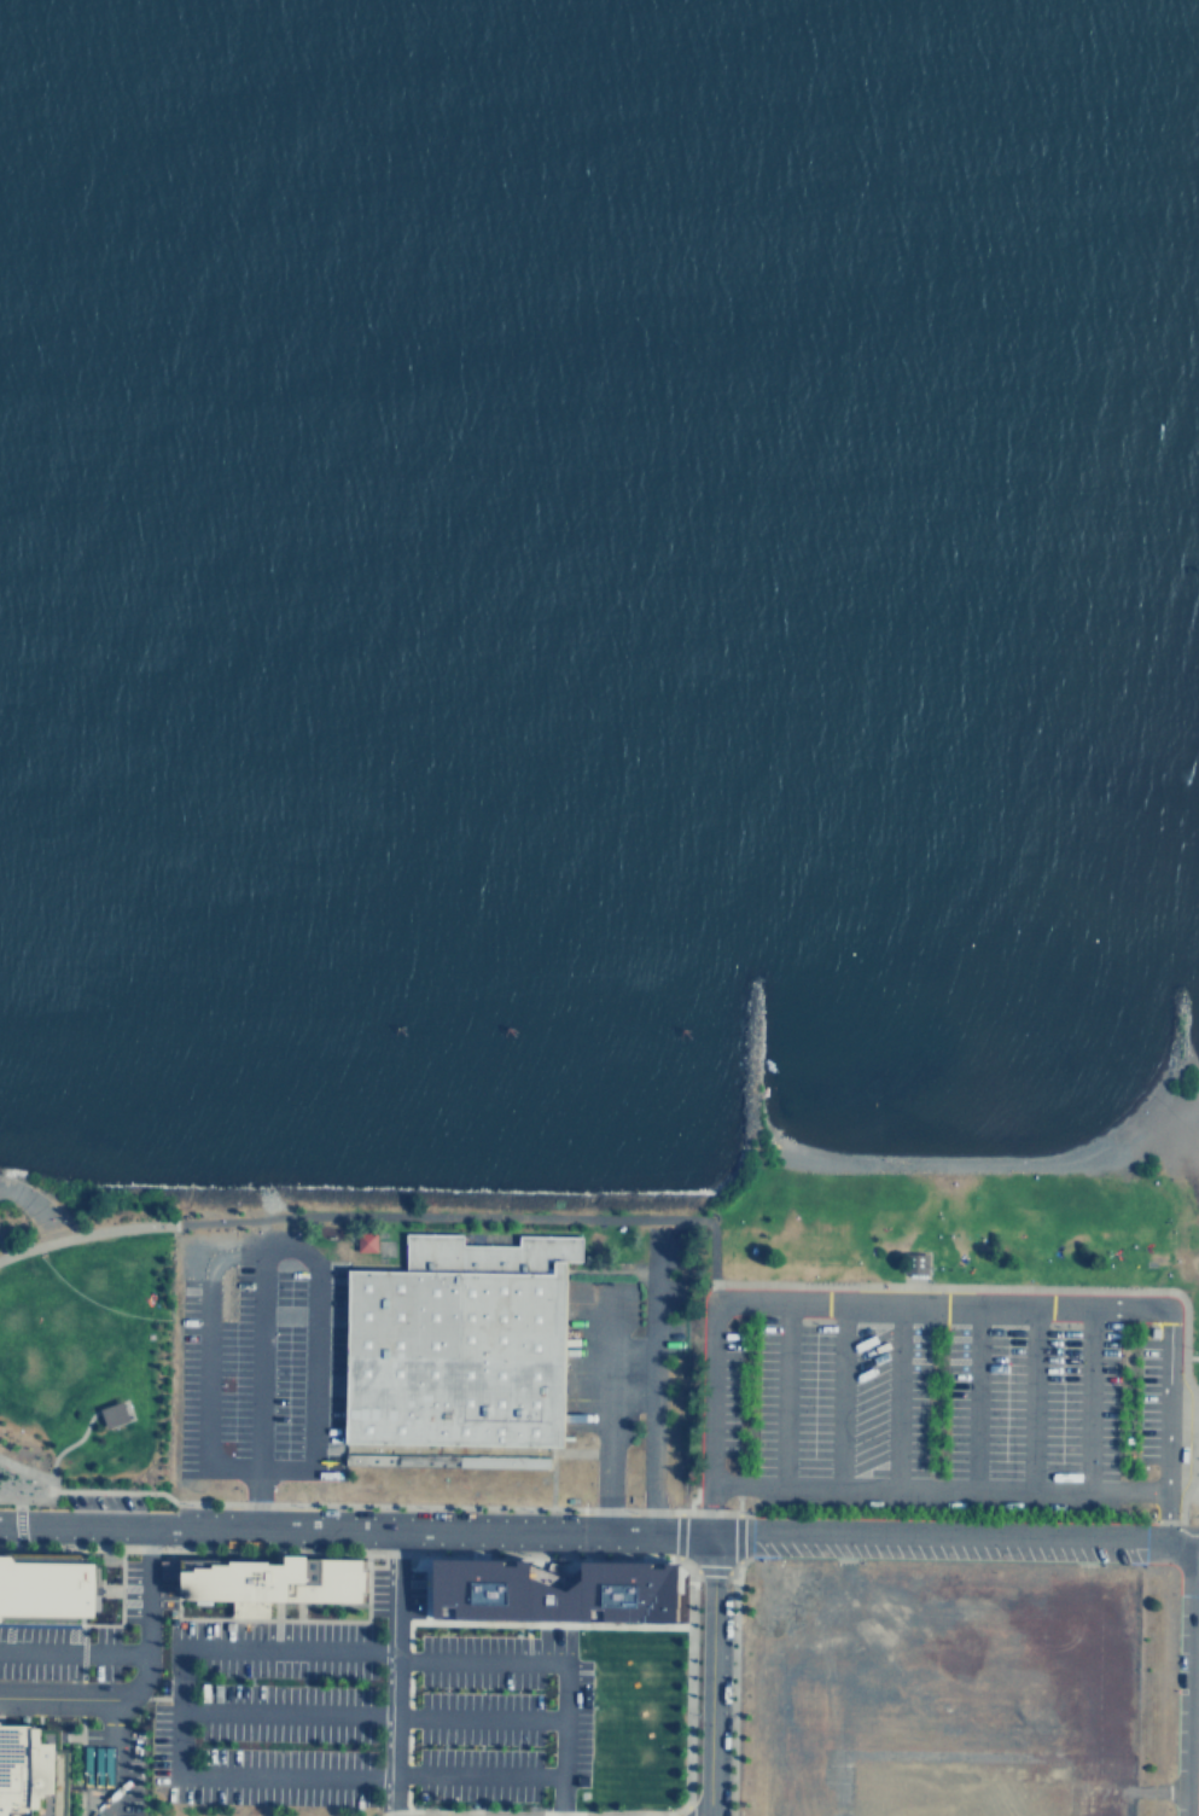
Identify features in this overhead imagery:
road: (472, 1215)
road: (87, 1233)
building: (367, 1240)
road: (281, 1244)
road: (4, 1251)
building: (914, 1262)
road: (1067, 1288)
parking lot: (660, 1293)
road: (936, 1300)
park: (948, 1326)
park: (86, 1339)
building: (459, 1345)
road: (205, 1352)
road: (1189, 1355)
parking lot: (258, 1366)
road: (650, 1384)
road: (780, 1392)
road: (840, 1393)
road: (896, 1395)
road: (973, 1396)
road: (1030, 1397)
road: (1088, 1397)
parking lot: (937, 1403)
road: (606, 1408)
building: (117, 1412)
road: (78, 1434)
road: (42, 1478)
road: (936, 1489)
road: (599, 1530)
road: (1188, 1530)
building: (284, 1582)
building: (560, 1585)
building: (63, 1589)
road: (69, 1637)
road: (549, 1663)
road: (708, 1675)
road: (127, 1676)
road: (1182, 1682)
road: (52, 1683)
parking lot: (277, 1716)
road: (284, 1716)
road: (473, 1719)
building: (35, 1773)
road: (233, 1775)
road: (473, 1779)
road: (549, 1814)

